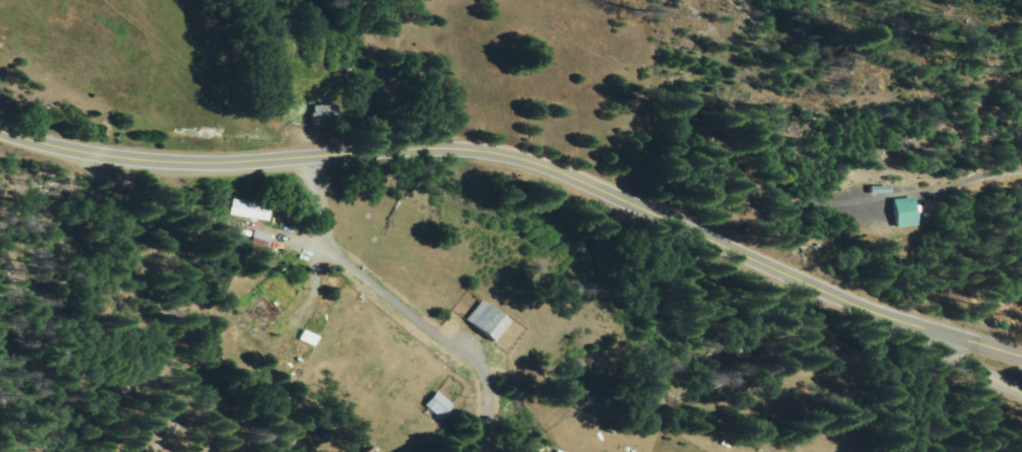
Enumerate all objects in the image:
building: (325, 115)
road: (439, 157)
park: (997, 192)
building: (253, 210)
building: (247, 233)
building: (263, 239)
building: (337, 281)
building: (263, 311)
building: (492, 319)
road: (937, 332)
building: (312, 338)
road: (937, 348)
building: (273, 353)
road: (183, 364)
building: (297, 364)
building: (440, 407)
park: (142, 420)
building: (374, 450)
building: (562, 451)

